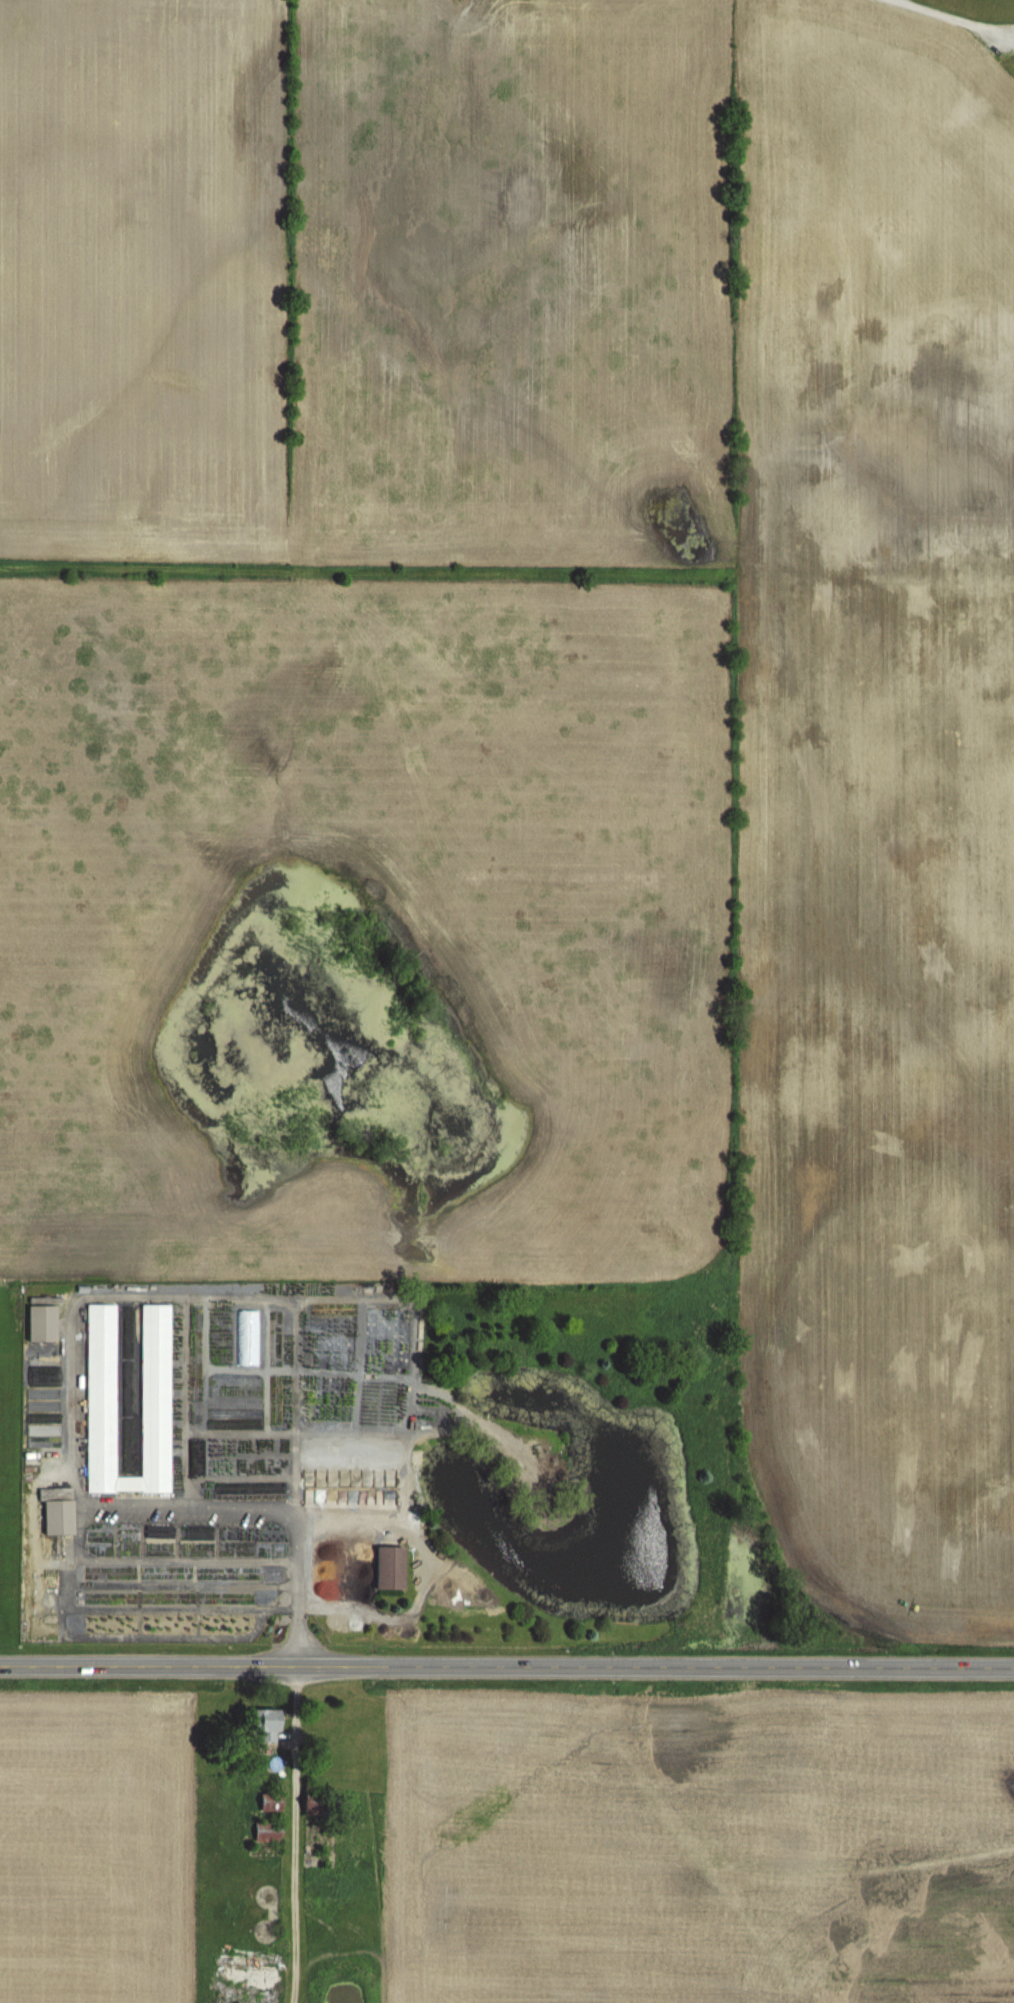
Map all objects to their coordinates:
road: (946, 17)
building: (39, 1322)
building: (126, 1397)
road: (292, 1403)
building: (43, 1415)
road: (263, 1507)
building: (55, 1510)
road: (426, 1563)
building: (385, 1566)
road: (506, 1665)
building: (261, 1725)
building: (267, 1802)
building: (264, 1831)
road: (291, 1834)
building: (244, 1978)

